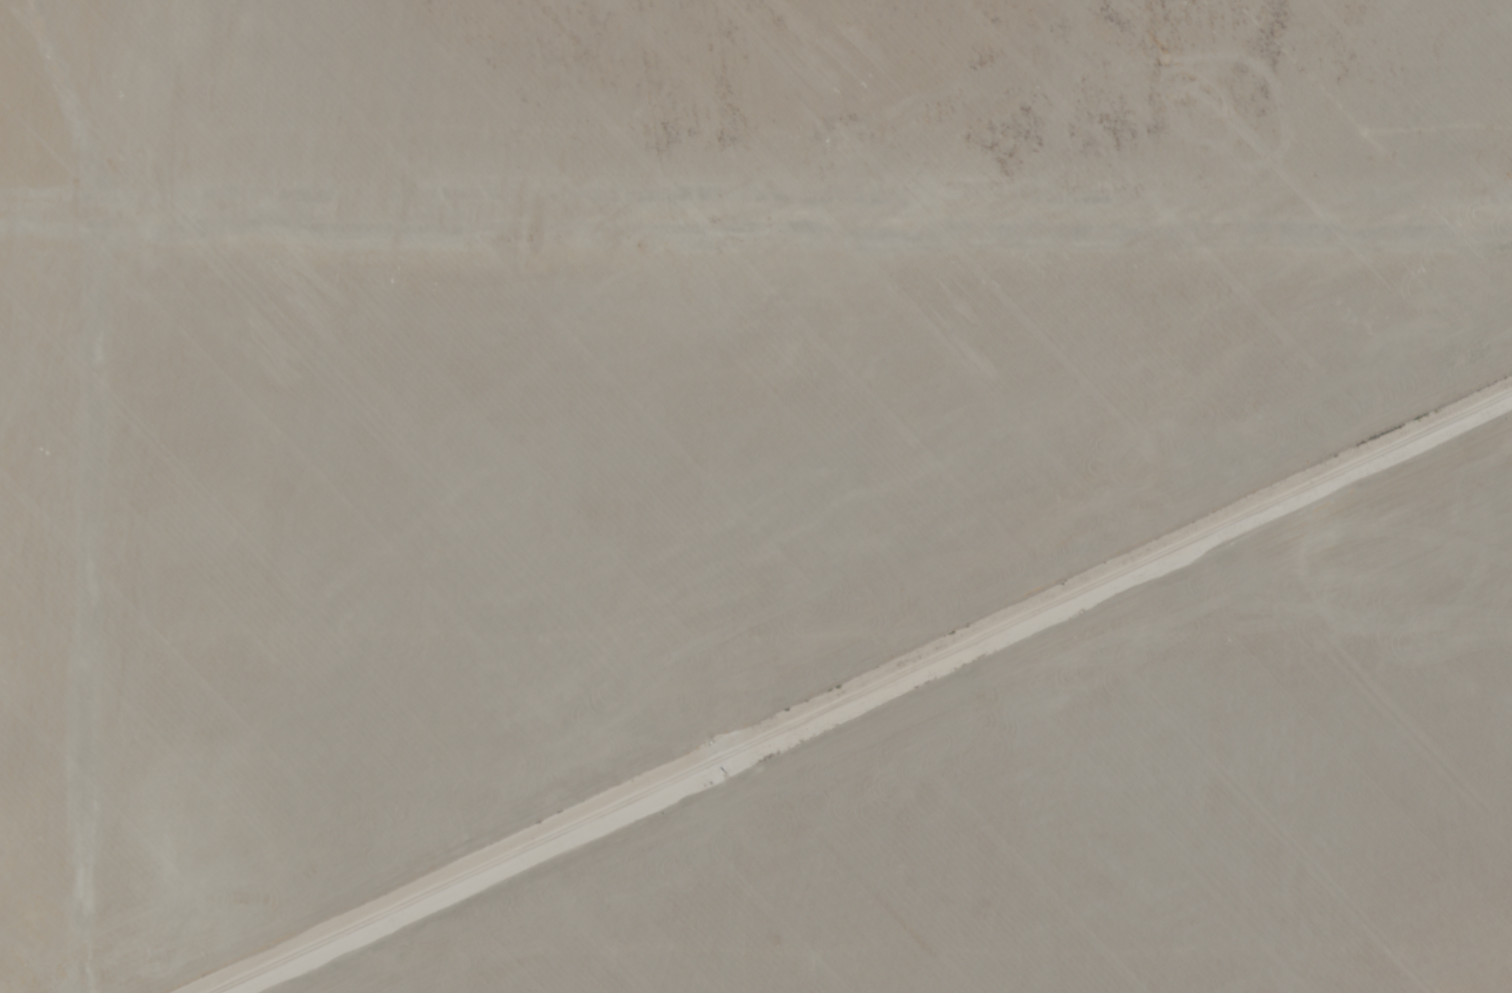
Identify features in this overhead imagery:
road: (60, 490)

